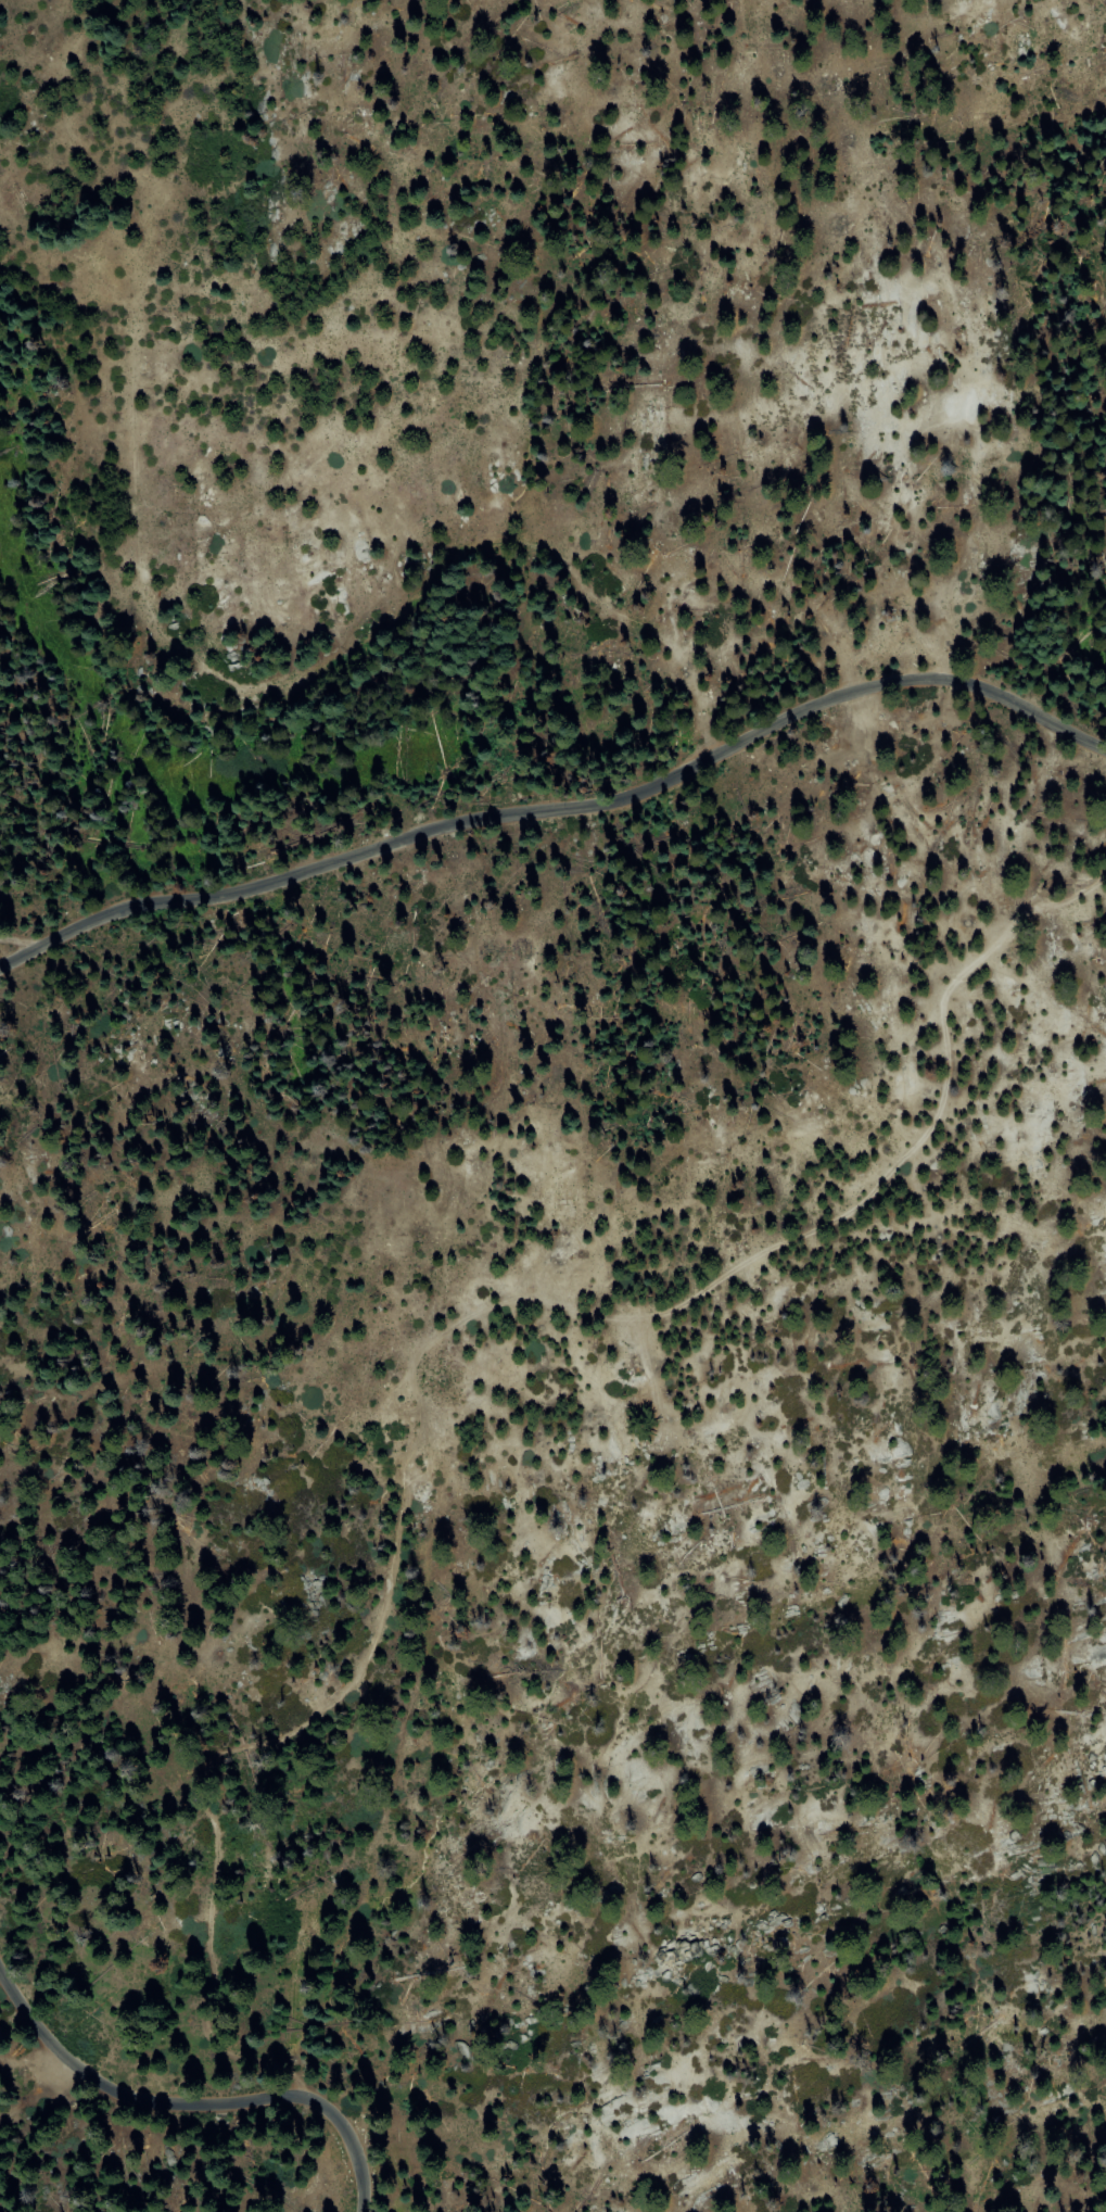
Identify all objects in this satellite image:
road: (559, 812)
road: (450, 1328)
road: (189, 2100)

